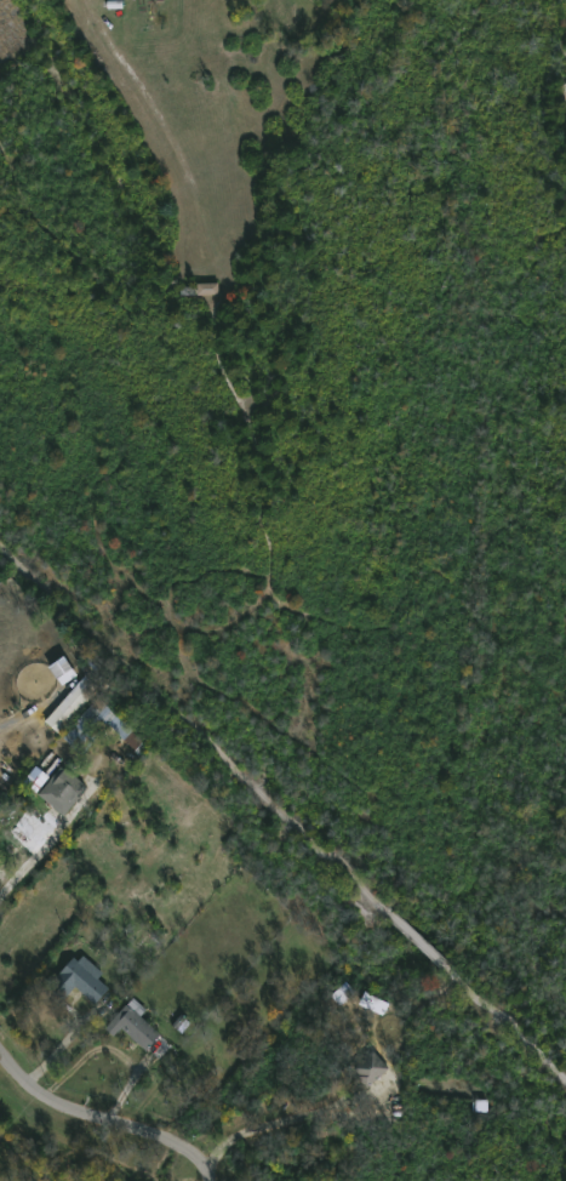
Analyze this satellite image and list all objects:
building: (206, 296)
building: (121, 731)
building: (81, 737)
building: (63, 791)
railway: (282, 814)
building: (80, 979)
building: (136, 1023)
building: (372, 1067)
road: (105, 1120)
road: (271, 1124)

